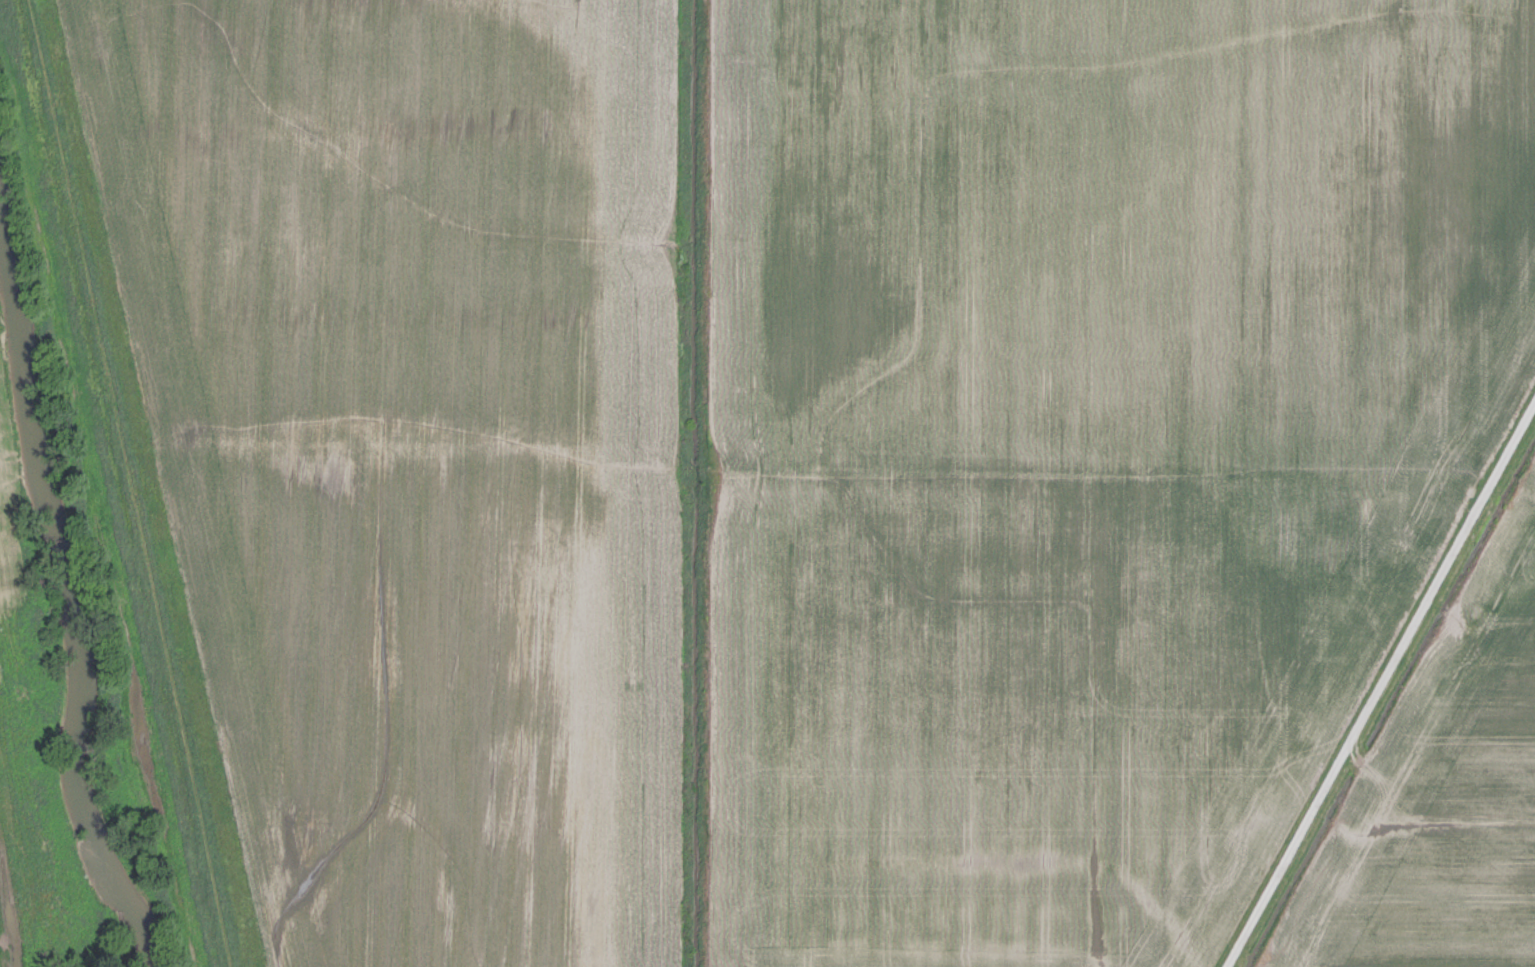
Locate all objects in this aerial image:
road: (1355, 640)

